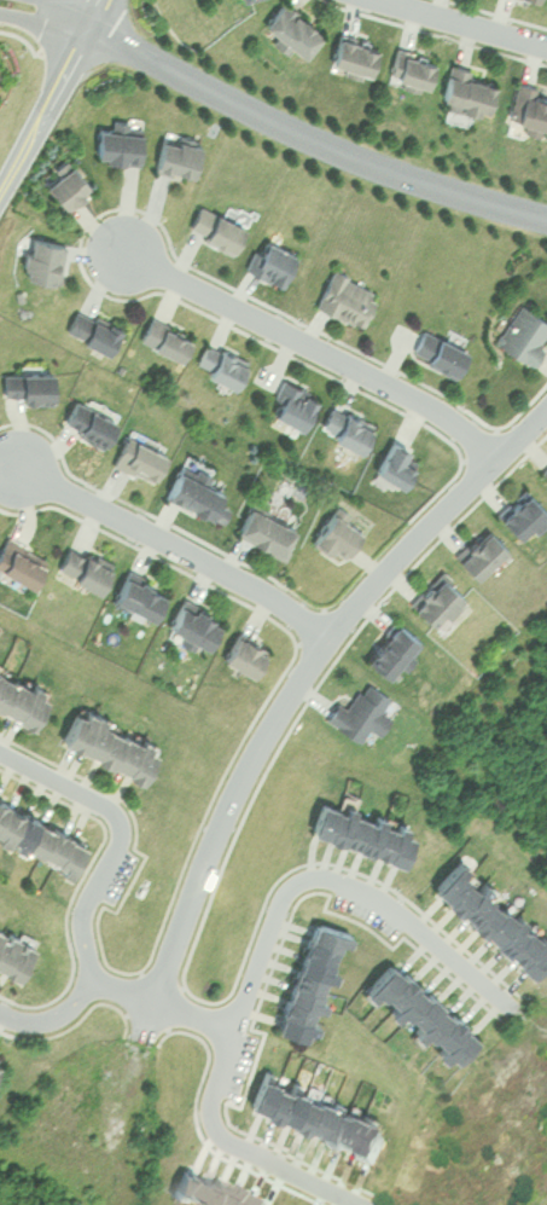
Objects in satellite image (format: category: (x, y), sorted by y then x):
building: (537, 0)
road: (71, 12)
road: (43, 19)
road: (470, 22)
building: (291, 27)
building: (353, 52)
building: (413, 69)
building: (467, 87)
road: (50, 92)
building: (531, 109)
road: (310, 135)
building: (117, 144)
building: (176, 155)
building: (68, 185)
building: (215, 227)
building: (43, 260)
building: (272, 261)
building: (345, 296)
building: (92, 329)
building: (523, 332)
building: (164, 337)
road: (318, 347)
building: (438, 349)
building: (225, 366)
building: (27, 384)
building: (293, 405)
building: (87, 423)
building: (351, 430)
building: (138, 457)
building: (396, 463)
building: (546, 474)
building: (196, 496)
building: (523, 516)
building: (264, 528)
building: (334, 533)
road: (178, 546)
building: (482, 554)
building: (19, 557)
building: (83, 564)
building: (138, 593)
building: (438, 601)
building: (192, 620)
building: (394, 648)
building: (244, 650)
building: (18, 686)
road: (292, 691)
building: (361, 711)
building: (103, 734)
building: (359, 824)
building: (39, 833)
road: (94, 882)
building: (490, 911)
building: (12, 951)
road: (258, 962)
building: (310, 978)
road: (122, 987)
building: (423, 1012)
road: (194, 1014)
building: (314, 1114)

